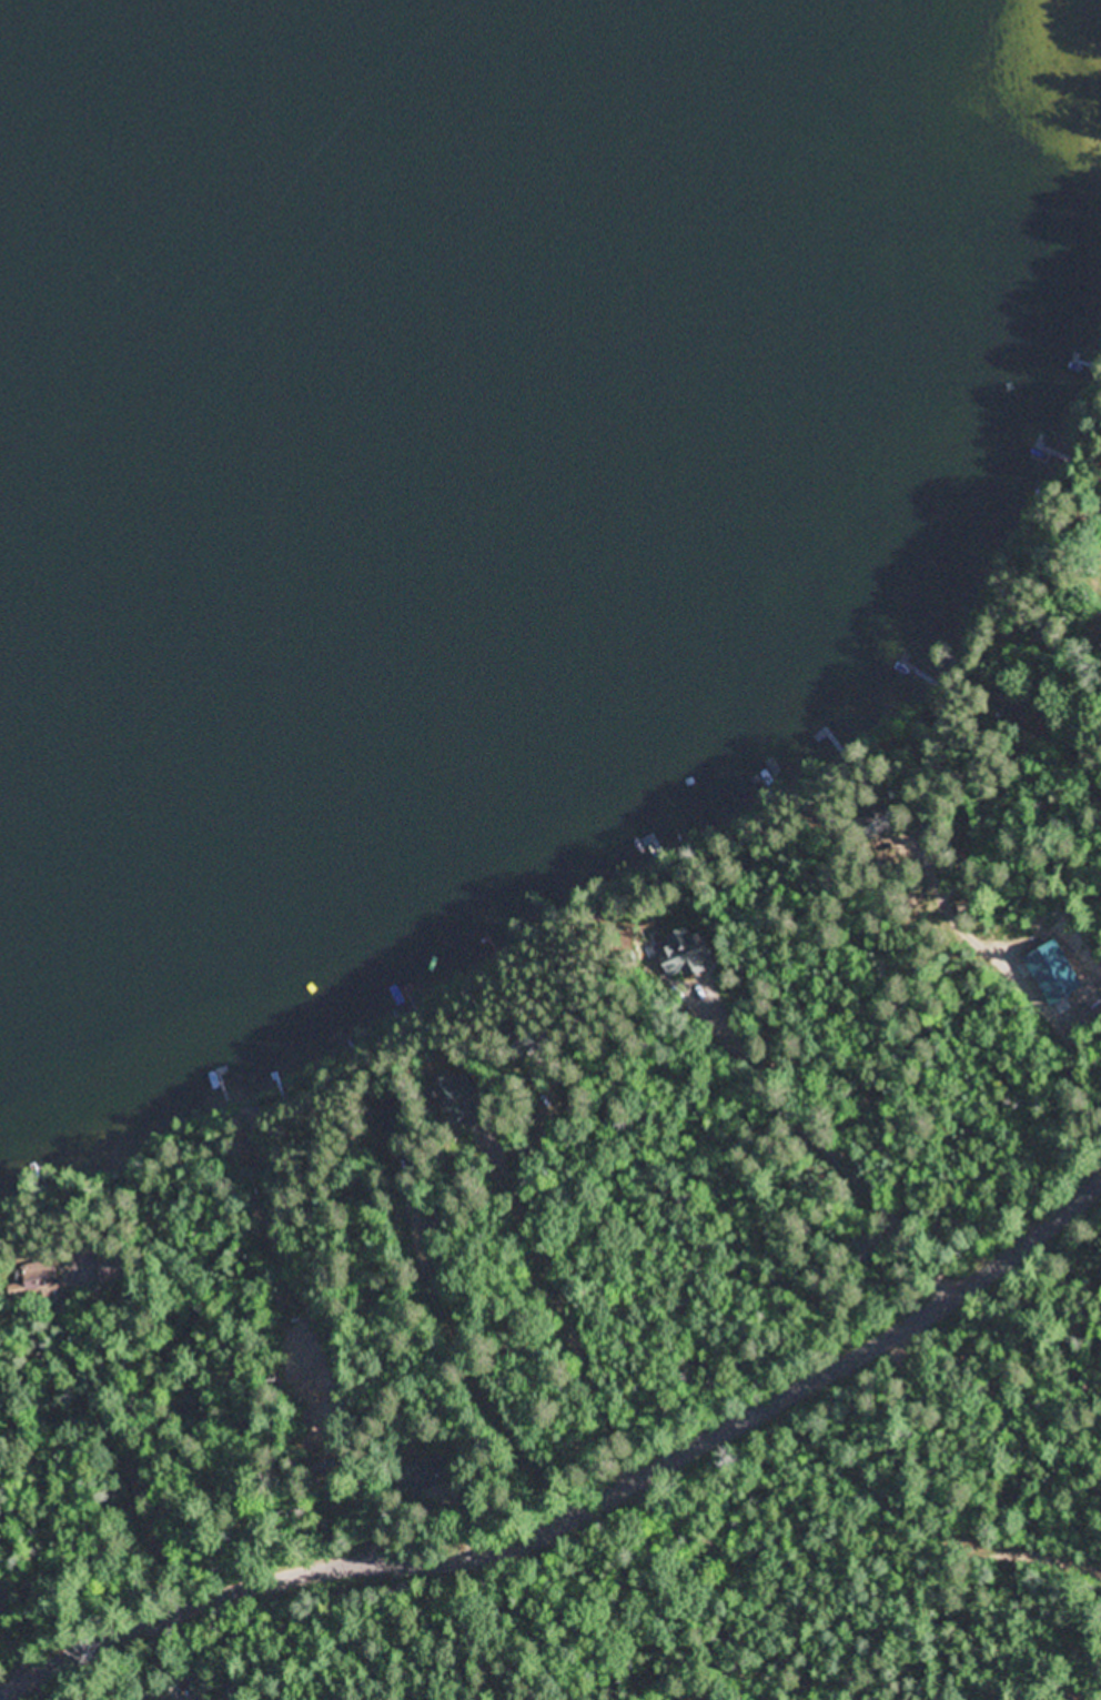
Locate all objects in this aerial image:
building: (691, 954)
building: (1055, 974)
building: (464, 1102)
building: (59, 1276)
road: (574, 1305)
road: (322, 1339)
road: (464, 1342)
road: (122, 1439)
road: (583, 1512)
road: (913, 1523)
road: (11, 1636)

